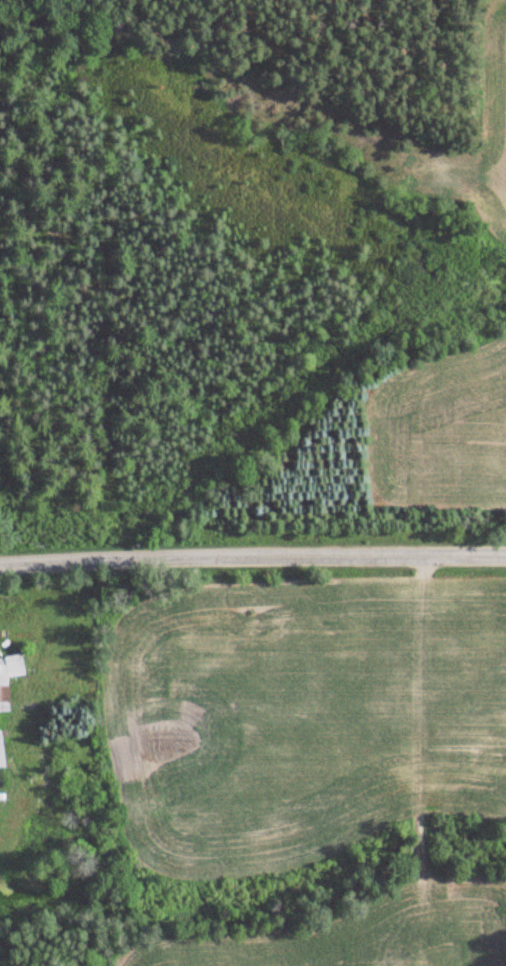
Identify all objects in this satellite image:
road: (253, 566)
building: (9, 678)
building: (3, 756)

